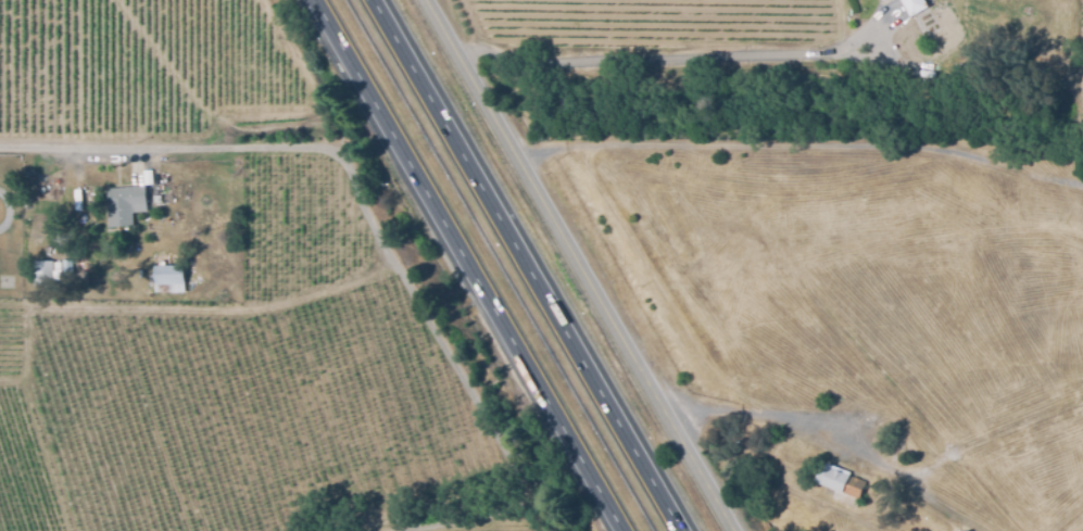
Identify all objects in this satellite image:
building: (879, 0)
building: (916, 5)
road: (679, 58)
road: (805, 147)
road: (158, 149)
building: (158, 197)
building: (126, 204)
building: (55, 260)
building: (64, 265)
road: (468, 265)
road: (526, 265)
road: (575, 265)
building: (41, 274)
building: (167, 279)
road: (454, 365)
road: (824, 438)
road: (992, 438)
building: (840, 483)

